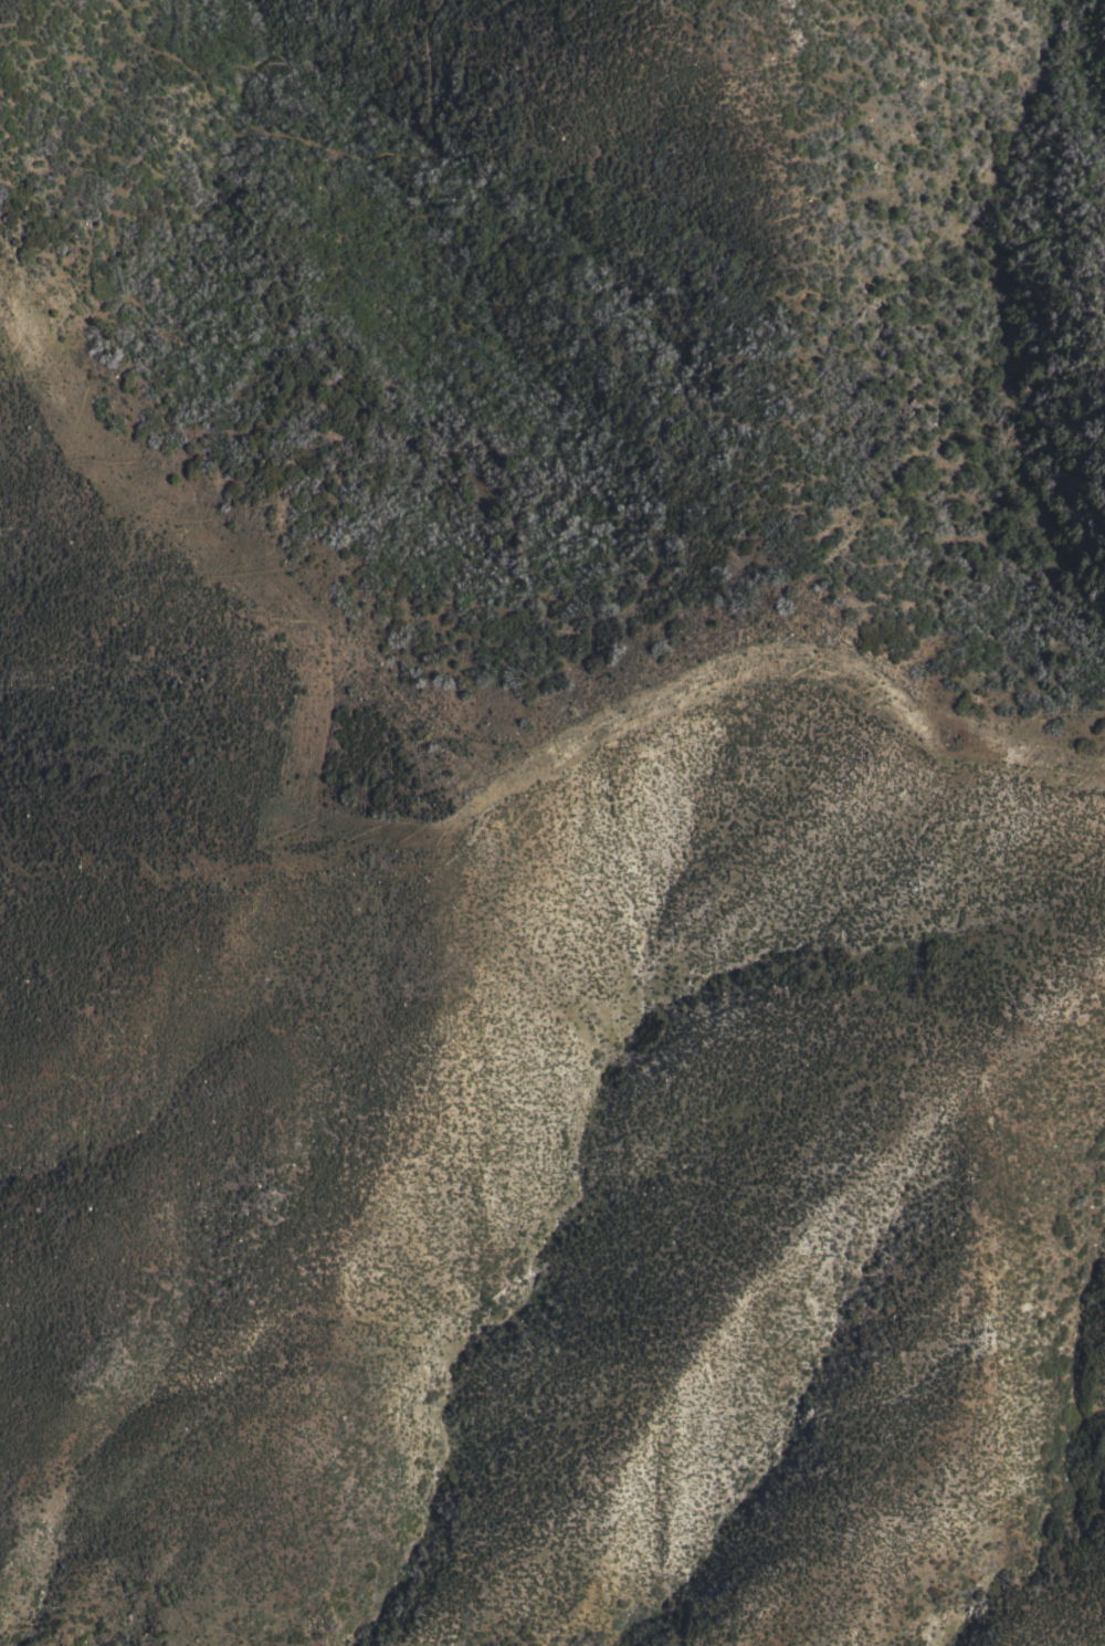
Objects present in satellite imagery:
road: (324, 144)
road: (951, 197)

